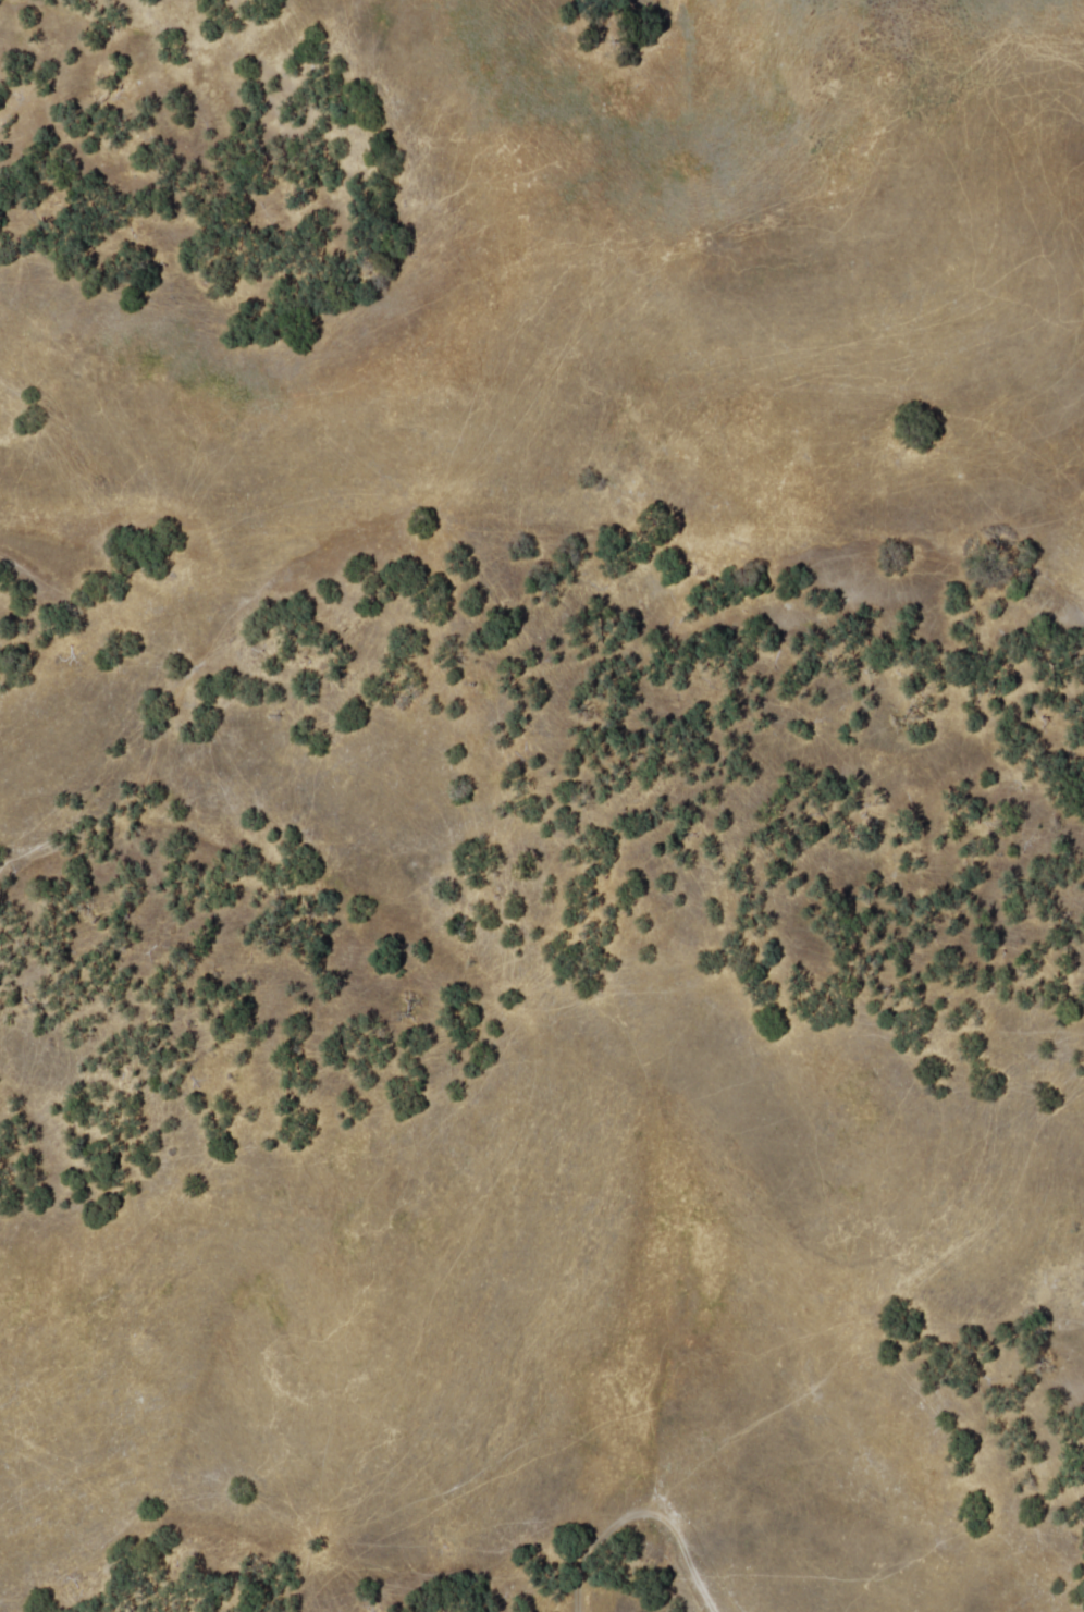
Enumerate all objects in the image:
road: (635, 1509)

